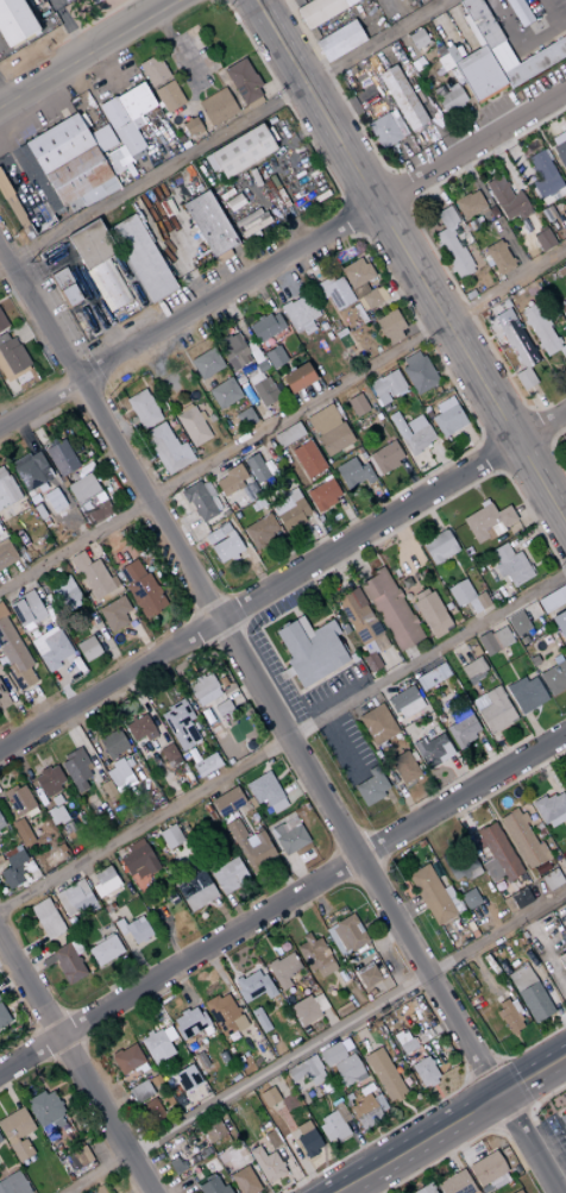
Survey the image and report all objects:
building: (93, 1)
road: (548, 10)
building: (319, 11)
building: (520, 12)
building: (13, 23)
road: (89, 23)
building: (480, 23)
road: (70, 27)
building: (340, 39)
building: (417, 39)
road: (522, 49)
road: (166, 52)
road: (89, 54)
building: (451, 54)
road: (183, 57)
building: (501, 57)
building: (535, 62)
building: (152, 69)
building: (478, 73)
road: (183, 79)
building: (243, 82)
road: (278, 82)
road: (202, 89)
road: (565, 90)
road: (338, 92)
road: (5, 93)
building: (168, 95)
road: (282, 95)
building: (401, 98)
building: (451, 99)
road: (421, 106)
building: (216, 107)
road: (347, 108)
road: (196, 112)
building: (128, 117)
building: (396, 123)
building: (191, 125)
road: (304, 127)
road: (226, 130)
building: (383, 131)
building: (57, 143)
road: (546, 145)
building: (241, 150)
building: (560, 152)
road: (174, 153)
road: (515, 155)
road: (502, 159)
building: (209, 162)
road: (19, 169)
road: (389, 174)
building: (543, 174)
building: (77, 175)
building: (8, 178)
building: (39, 180)
building: (4, 188)
road: (460, 188)
road: (479, 188)
building: (521, 188)
road: (366, 189)
building: (99, 190)
road: (396, 190)
road: (432, 190)
building: (505, 197)
road: (341, 202)
building: (74, 203)
building: (470, 203)
road: (407, 205)
building: (17, 211)
building: (58, 211)
building: (37, 213)
road: (352, 216)
road: (382, 216)
building: (565, 218)
building: (208, 222)
building: (251, 222)
building: (43, 224)
building: (470, 224)
road: (289, 227)
building: (29, 232)
road: (360, 233)
building: (543, 239)
building: (92, 244)
building: (451, 244)
road: (334, 249)
road: (434, 249)
road: (511, 249)
building: (222, 255)
road: (283, 257)
building: (498, 257)
building: (140, 258)
road: (409, 262)
road: (4, 264)
road: (306, 265)
road: (447, 271)
building: (560, 271)
building: (59, 278)
road: (82, 281)
road: (190, 283)
building: (108, 284)
building: (361, 284)
road: (271, 287)
road: (532, 287)
building: (320, 288)
road: (262, 293)
building: (338, 293)
road: (136, 294)
building: (468, 294)
building: (69, 295)
building: (297, 312)
road: (470, 313)
road: (339, 320)
road: (420, 321)
building: (565, 321)
building: (1, 324)
building: (265, 326)
building: (390, 326)
building: (542, 331)
road: (490, 337)
building: (232, 350)
building: (518, 350)
building: (273, 357)
building: (11, 358)
road: (287, 360)
building: (206, 363)
road: (440, 363)
building: (417, 372)
road: (371, 373)
road: (511, 373)
building: (296, 377)
building: (254, 378)
road: (312, 382)
building: (386, 383)
road: (145, 387)
building: (277, 388)
building: (264, 391)
building: (224, 393)
building: (408, 394)
building: (382, 398)
road: (540, 402)
building: (357, 404)
building: (445, 404)
building: (184, 407)
building: (143, 408)
road: (529, 412)
building: (201, 415)
road: (117, 416)
road: (404, 416)
building: (244, 417)
building: (321, 417)
road: (282, 420)
building: (448, 420)
building: (414, 423)
building: (191, 426)
building: (328, 427)
road: (124, 428)
road: (507, 428)
road: (383, 433)
building: (288, 434)
building: (410, 434)
building: (334, 438)
road: (483, 440)
road: (474, 442)
building: (166, 448)
road: (264, 448)
road: (136, 450)
building: (384, 457)
building: (61, 458)
building: (307, 459)
road: (442, 459)
road: (141, 461)
building: (277, 465)
road: (297, 466)
building: (256, 467)
building: (31, 470)
road: (149, 473)
building: (352, 473)
road: (411, 477)
building: (229, 479)
road: (338, 488)
building: (6, 489)
road: (298, 489)
building: (322, 494)
building: (89, 498)
building: (197, 501)
road: (312, 504)
building: (224, 513)
building: (291, 514)
road: (347, 515)
building: (486, 522)
building: (222, 527)
building: (259, 530)
road: (317, 534)
building: (212, 536)
building: (225, 547)
building: (438, 547)
road: (285, 551)
building: (6, 554)
road: (249, 555)
building: (509, 565)
building: (93, 577)
road: (282, 579)
building: (140, 588)
building: (64, 595)
building: (466, 597)
building: (552, 599)
building: (390, 609)
building: (26, 610)
building: (429, 613)
building: (113, 614)
building: (360, 621)
building: (517, 623)
building: (560, 624)
building: (493, 641)
building: (50, 648)
building: (87, 648)
building: (309, 649)
building: (14, 654)
building: (472, 670)
building: (430, 677)
building: (553, 678)
building: (203, 689)
building: (524, 695)
building: (2, 698)
building: (404, 702)
building: (492, 709)
building: (216, 710)
building: (458, 712)
road: (276, 721)
building: (180, 724)
building: (377, 724)
building: (139, 728)
building: (463, 730)
road: (282, 740)
building: (112, 743)
building: (432, 751)
building: (169, 755)
building: (403, 767)
building: (75, 768)
building: (119, 776)
building: (48, 780)
building: (371, 786)
building: (265, 792)
building: (18, 799)
building: (226, 802)
building: (551, 810)
building: (0, 824)
building: (21, 831)
building: (169, 836)
building: (288, 836)
building: (522, 840)
building: (250, 846)
building: (496, 854)
building: (137, 860)
building: (228, 875)
building: (103, 881)
building: (196, 893)
building: (433, 896)
building: (520, 898)
building: (73, 899)
building: (468, 899)
road: (282, 904)
building: (45, 918)
building: (136, 930)
building: (346, 934)
building: (103, 950)
building: (315, 956)
building: (561, 961)
building: (67, 963)
building: (282, 969)
building: (366, 975)
building: (252, 986)
building: (528, 993)
building: (303, 1011)
building: (224, 1015)
building: (509, 1017)
building: (2, 1018)
building: (188, 1022)
building: (403, 1041)
road: (314, 1042)
building: (158, 1044)
building: (331, 1054)
building: (126, 1059)
road: (77, 1066)
building: (347, 1070)
building: (304, 1072)
building: (424, 1073)
building: (383, 1075)
building: (185, 1078)
building: (139, 1092)
building: (268, 1097)
building: (367, 1111)
building: (45, 1112)
building: (562, 1120)
building: (333, 1125)
road: (453, 1128)
building: (212, 1131)
building: (15, 1134)
building: (306, 1138)
building: (0, 1143)
building: (78, 1156)
building: (266, 1164)
building: (202, 1168)
building: (488, 1172)
building: (244, 1181)
building: (13, 1183)
building: (454, 1183)
building: (212, 1186)
building: (423, 1189)
building: (517, 1192)

